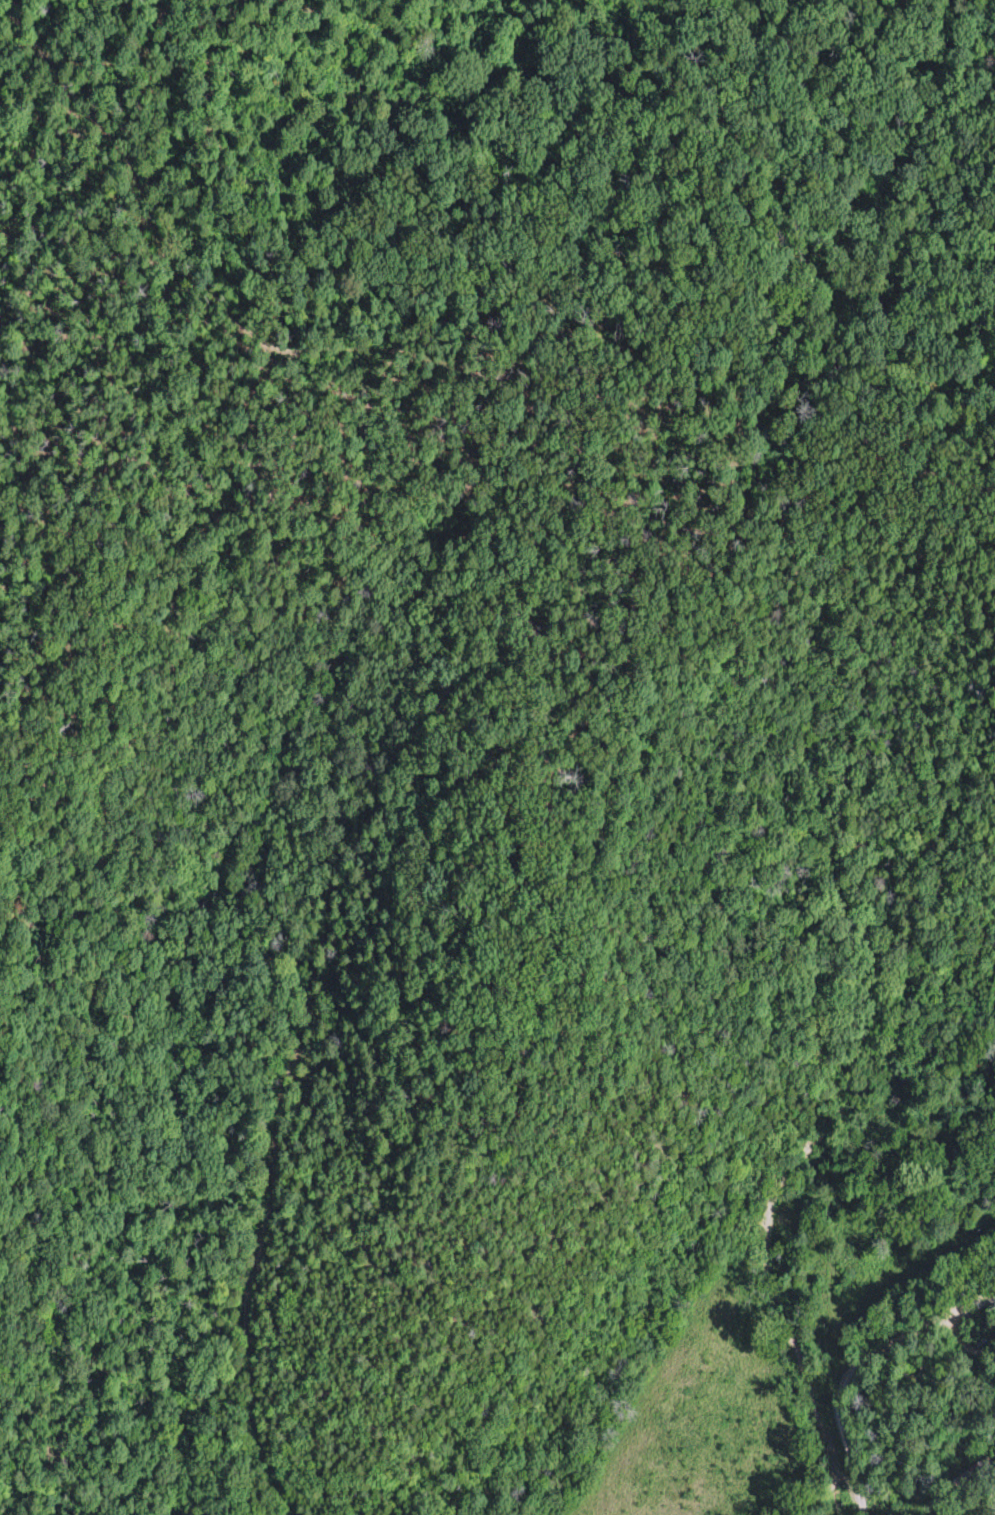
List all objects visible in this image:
road: (859, 1370)

